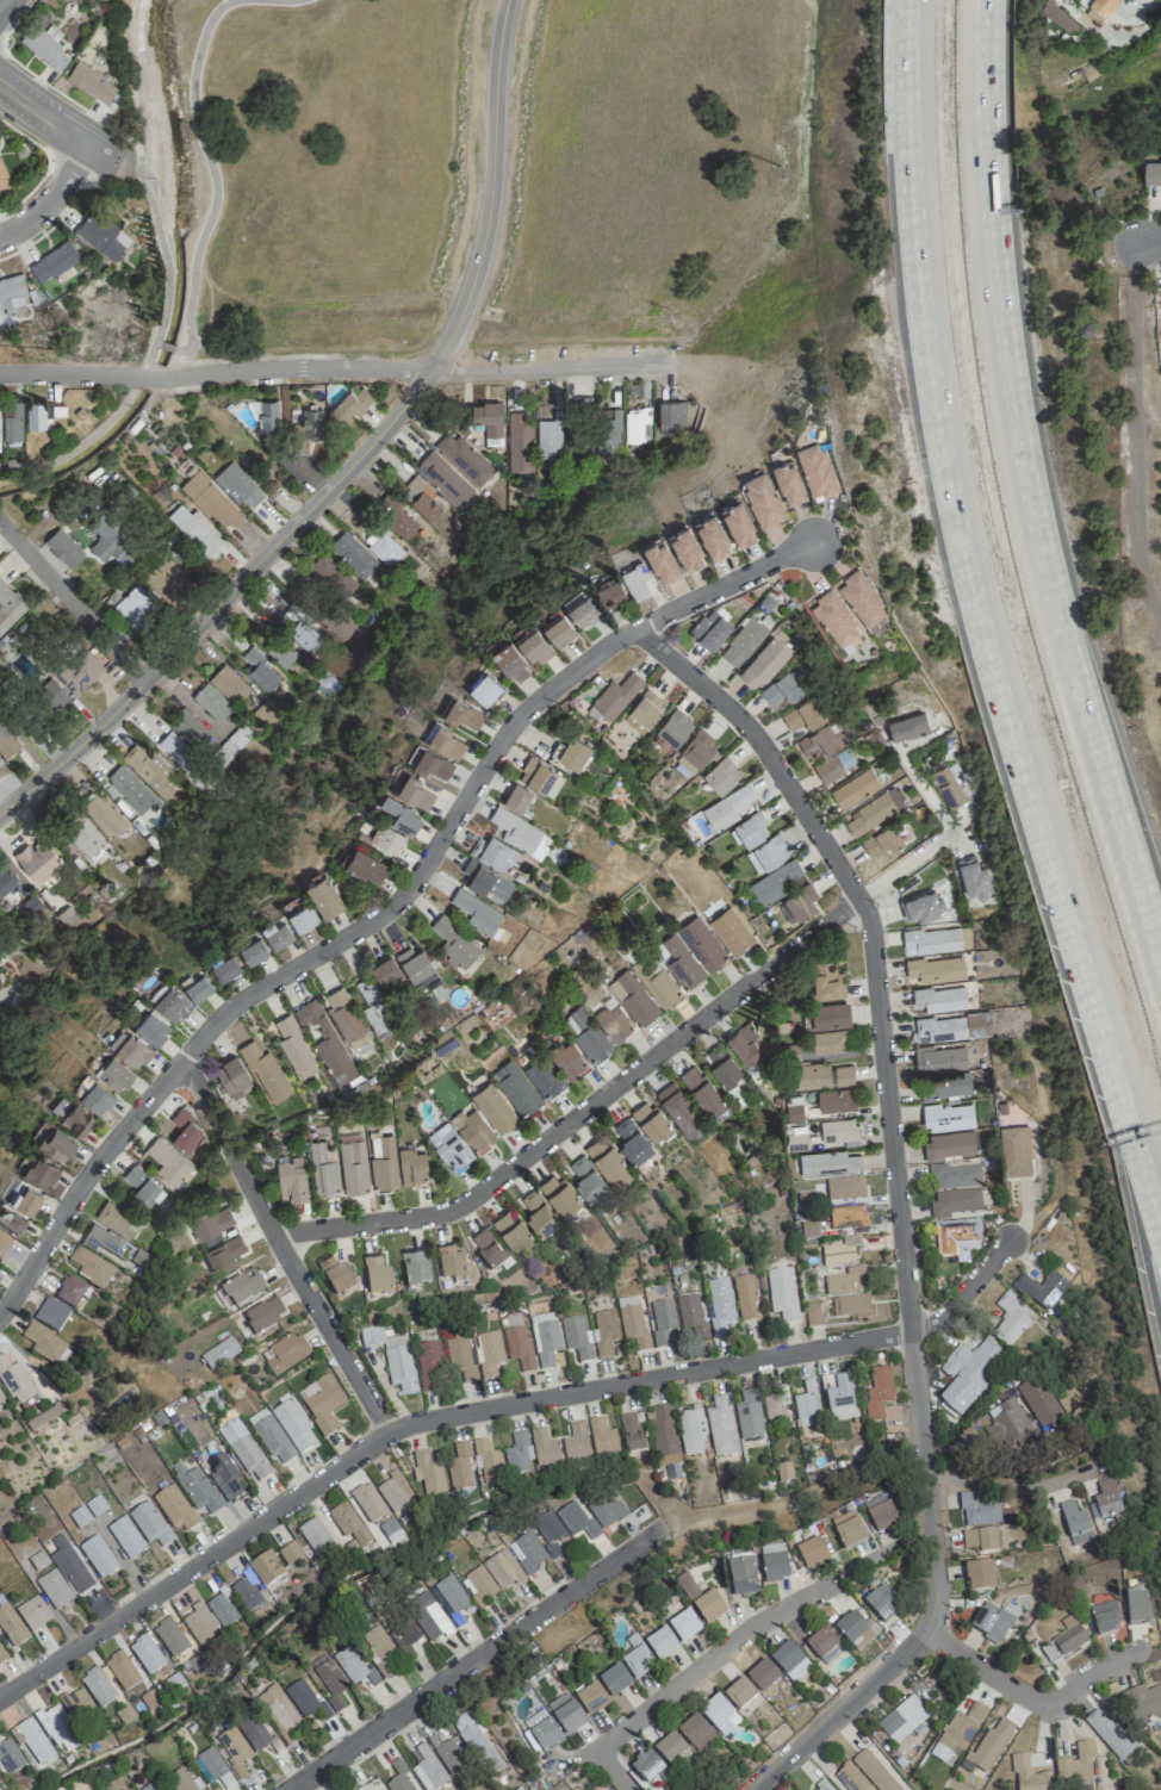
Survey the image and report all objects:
road: (1, 1)
building: (1101, 6)
building: (1060, 15)
road: (13, 20)
building: (46, 46)
building: (91, 82)
road: (63, 95)
road: (50, 120)
road: (45, 164)
building: (1151, 172)
park: (461, 178)
building: (4, 179)
road: (213, 184)
road: (490, 191)
road: (50, 198)
road: (61, 216)
building: (103, 232)
road: (1150, 237)
road: (160, 241)
building: (55, 262)
building: (12, 293)
road: (327, 367)
building: (352, 403)
building: (35, 415)
building: (268, 415)
building: (671, 417)
building: (12, 421)
building: (309, 427)
building: (637, 430)
building: (609, 433)
road: (1132, 436)
building: (548, 441)
building: (519, 442)
building: (582, 449)
building: (462, 459)
building: (815, 462)
building: (788, 476)
building: (443, 479)
building: (237, 484)
road: (1024, 489)
building: (762, 492)
building: (422, 499)
building: (211, 501)
building: (738, 518)
building: (401, 524)
building: (197, 529)
building: (712, 532)
building: (112, 541)
building: (685, 545)
building: (63, 548)
building: (385, 548)
road: (967, 554)
building: (353, 555)
building: (662, 558)
building: (333, 576)
building: (635, 577)
building: (167, 579)
building: (609, 590)
building: (861, 592)
road: (222, 598)
road: (72, 602)
building: (8, 605)
building: (135, 605)
building: (580, 607)
building: (833, 613)
building: (336, 622)
building: (558, 628)
building: (710, 628)
building: (304, 634)
building: (743, 641)
building: (534, 644)
building: (278, 650)
building: (510, 659)
building: (764, 661)
building: (259, 670)
building: (80, 672)
building: (228, 684)
building: (484, 686)
building: (781, 689)
building: (616, 695)
building: (48, 700)
building: (212, 703)
building: (461, 710)
building: (644, 710)
building: (803, 715)
building: (906, 726)
building: (188, 727)
building: (673, 727)
building: (446, 739)
building: (6, 742)
building: (234, 742)
building: (573, 752)
building: (695, 752)
building: (826, 752)
building: (0, 760)
building: (185, 760)
building: (433, 762)
building: (148, 769)
building: (721, 775)
building: (540, 776)
building: (946, 787)
building: (855, 788)
building: (132, 791)
building: (516, 796)
building: (728, 808)
building: (402, 813)
building: (873, 813)
building: (103, 815)
building: (750, 831)
building: (519, 832)
building: (386, 837)
building: (85, 838)
building: (881, 841)
building: (497, 853)
building: (766, 854)
building: (38, 860)
building: (365, 863)
building: (974, 877)
building: (6, 881)
building: (486, 881)
building: (775, 883)
building: (324, 895)
building: (797, 903)
road: (395, 906)
building: (921, 907)
building: (477, 912)
building: (300, 914)
building: (731, 930)
building: (277, 932)
building: (936, 940)
building: (454, 941)
building: (702, 944)
building: (253, 949)
building: (414, 962)
building: (225, 965)
building: (936, 969)
building: (385, 970)
building: (668, 971)
building: (826, 981)
building: (198, 987)
building: (633, 999)
building: (940, 999)
building: (170, 1003)
building: (374, 1003)
building: (830, 1014)
building: (346, 1015)
building: (613, 1023)
building: (151, 1027)
building: (954, 1027)
building: (327, 1040)
building: (830, 1042)
building: (744, 1043)
building: (294, 1046)
building: (129, 1048)
building: (940, 1058)
building: (569, 1059)
building: (721, 1064)
building: (265, 1071)
building: (113, 1073)
building: (541, 1073)
road: (629, 1075)
building: (822, 1076)
building: (232, 1077)
building: (945, 1086)
building: (516, 1088)
building: (703, 1090)
building: (97, 1096)
building: (836, 1100)
building: (493, 1107)
building: (678, 1107)
building: (76, 1118)
building: (949, 1118)
building: (650, 1119)
building: (473, 1130)
building: (838, 1130)
building: (185, 1131)
building: (632, 1140)
building: (56, 1143)
building: (949, 1144)
building: (449, 1146)
building: (1017, 1152)
road: (1142, 1155)
building: (383, 1160)
building: (607, 1160)
building: (167, 1161)
building: (830, 1164)
building: (354, 1166)
building: (412, 1167)
building: (41, 1169)
building: (323, 1169)
building: (952, 1176)
building: (586, 1179)
building: (291, 1180)
building: (142, 1185)
building: (844, 1188)
building: (558, 1193)
building: (25, 1197)
building: (806, 1200)
building: (954, 1202)
road: (896, 1204)
building: (539, 1211)
road: (1138, 1213)
building: (117, 1218)
building: (848, 1218)
building: (11, 1220)
building: (210, 1223)
building: (511, 1229)
building: (808, 1230)
building: (956, 1237)
building: (101, 1239)
building: (4, 1247)
road: (280, 1247)
building: (488, 1249)
building: (840, 1253)
building: (222, 1254)
building: (454, 1266)
building: (415, 1267)
building: (89, 1268)
building: (335, 1275)
building: (377, 1276)
building: (843, 1281)
building: (242, 1287)
building: (1039, 1289)
building: (70, 1293)
building: (781, 1293)
building: (745, 1297)
building: (719, 1305)
building: (850, 1305)
building: (50, 1314)
building: (262, 1316)
building: (690, 1316)
building: (813, 1318)
building: (1010, 1319)
building: (632, 1320)
building: (662, 1320)
building: (590, 1336)
building: (544, 1340)
building: (41, 1343)
building: (517, 1347)
building: (489, 1353)
building: (219, 1354)
building: (284, 1354)
building: (391, 1357)
building: (459, 1357)
building: (429, 1366)
building: (968, 1373)
building: (14, 1382)
building: (877, 1392)
building: (839, 1398)
building: (0, 1401)
building: (321, 1403)
building: (1039, 1403)
building: (805, 1406)
road: (486, 1409)
building: (772, 1409)
building: (749, 1416)
building: (292, 1425)
building: (720, 1427)
building: (1013, 1428)
building: (690, 1430)
building: (631, 1434)
building: (663, 1434)
building: (269, 1435)
building: (601, 1437)
building: (575, 1442)
building: (242, 1448)
building: (544, 1448)
building: (516, 1455)
building: (488, 1462)
building: (459, 1467)
building: (783, 1472)
building: (427, 1473)
building: (222, 1475)
road: (1001, 1486)
building: (195, 1488)
building: (393, 1492)
building: (1106, 1498)
building: (173, 1506)
building: (603, 1508)
building: (977, 1510)
building: (377, 1512)
building: (880, 1515)
building: (79, 1516)
building: (575, 1519)
building: (1074, 1523)
building: (149, 1524)
building: (348, 1525)
building: (547, 1531)
building: (848, 1531)
building: (125, 1537)
building: (316, 1539)
building: (979, 1540)
building: (809, 1550)
building: (288, 1553)
building: (526, 1553)
building: (97, 1556)
building: (37, 1560)
building: (772, 1564)
building: (69, 1566)
road: (855, 1566)
building: (266, 1567)
building: (502, 1570)
building: (741, 1575)
building: (979, 1575)
building: (479, 1586)
building: (54, 1589)
building: (244, 1591)
building: (451, 1593)
building: (700, 1601)
building: (881, 1603)
building: (221, 1609)
building: (1137, 1611)
building: (32, 1614)
building: (428, 1617)
building: (1105, 1621)
building: (199, 1622)
building: (993, 1622)
building: (11, 1627)
building: (683, 1627)
building: (850, 1628)
building: (403, 1634)
building: (169, 1637)
building: (1063, 1643)
building: (660, 1645)
building: (822, 1646)
building: (378, 1648)
building: (145, 1654)
building: (1, 1658)
building: (637, 1659)
building: (788, 1660)
road: (466, 1662)
building: (353, 1667)
building: (120, 1671)
building: (762, 1676)
building: (329, 1679)
building: (614, 1680)
road: (678, 1682)
building: (97, 1686)
building: (739, 1693)
road: (1020, 1693)
building: (591, 1699)
building: (305, 1701)
building: (1143, 1703)
building: (77, 1705)
building: (278, 1708)
building: (565, 1714)
building: (719, 1715)
building: (901, 1718)
building: (57, 1728)
building: (961, 1729)
building: (252, 1732)
building: (694, 1732)
building: (545, 1735)
building: (1109, 1735)
building: (33, 1740)
building: (477, 1744)
building: (529, 1744)
building: (669, 1747)
building: (988, 1747)
building: (232, 1751)
building: (8, 1754)
building: (448, 1754)
building: (1075, 1766)
building: (215, 1769)
building: (648, 1769)
building: (427, 1770)
building: (873, 1771)
building: (1027, 1776)
building: (398, 1777)
building: (850, 1778)
building: (0, 1779)
building: (181, 1780)
building: (821, 1785)
building: (360, 1788)
building: (123, 1789)

